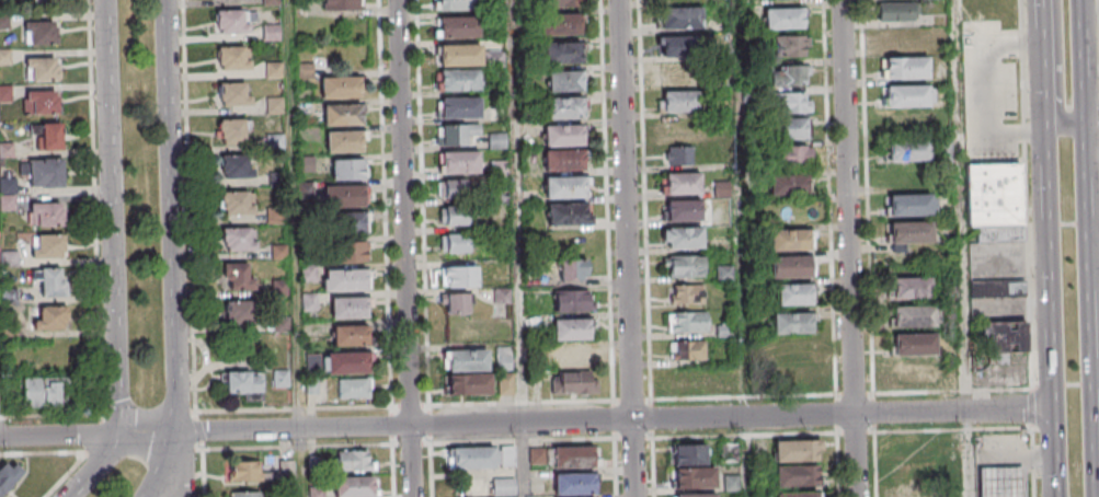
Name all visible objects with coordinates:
building: (272, 3)
building: (556, 3)
building: (341, 4)
building: (457, 4)
building: (894, 11)
building: (680, 18)
building: (782, 18)
road: (1041, 21)
building: (232, 25)
building: (458, 25)
building: (559, 25)
building: (273, 35)
building: (43, 36)
building: (901, 38)
road: (1050, 41)
building: (679, 45)
building: (787, 45)
building: (561, 51)
building: (459, 54)
building: (5, 59)
building: (233, 62)
building: (905, 67)
building: (44, 72)
building: (275, 72)
building: (306, 72)
road: (1058, 72)
building: (676, 73)
building: (789, 76)
road: (1043, 77)
building: (459, 81)
building: (565, 81)
road: (988, 90)
building: (341, 92)
building: (5, 95)
building: (907, 95)
building: (234, 97)
building: (678, 101)
building: (793, 102)
building: (44, 105)
building: (276, 107)
building: (562, 107)
building: (458, 108)
building: (343, 119)
road: (1056, 127)
building: (790, 128)
building: (232, 130)
building: (459, 131)
building: (562, 134)
building: (48, 136)
building: (496, 140)
building: (345, 146)
building: (908, 150)
building: (7, 153)
building: (678, 154)
building: (794, 155)
building: (563, 160)
building: (460, 163)
building: (308, 165)
building: (237, 167)
building: (348, 169)
building: (45, 173)
building: (278, 181)
building: (679, 183)
building: (787, 185)
building: (9, 187)
building: (564, 187)
building: (460, 188)
building: (720, 189)
building: (344, 200)
building: (994, 200)
road: (386, 204)
road: (424, 204)
building: (911, 204)
building: (9, 205)
road: (960, 206)
building: (238, 207)
road: (740, 208)
building: (683, 210)
road: (515, 211)
building: (568, 212)
road: (293, 215)
building: (460, 215)
building: (277, 217)
building: (47, 218)
building: (346, 228)
building: (908, 231)
building: (682, 236)
building: (792, 240)
building: (240, 243)
building: (459, 243)
road: (407, 247)
road: (629, 248)
road: (832, 248)
road: (850, 248)
road: (1028, 248)
road: (1090, 248)
building: (49, 250)
building: (352, 251)
building: (282, 253)
road: (172, 254)
road: (113, 256)
building: (11, 261)
road: (1095, 263)
building: (684, 265)
building: (791, 266)
building: (572, 269)
building: (310, 274)
building: (237, 276)
building: (459, 276)
building: (348, 284)
building: (53, 287)
building: (909, 287)
building: (997, 288)
building: (794, 293)
building: (686, 294)
building: (11, 298)
building: (572, 300)
building: (311, 302)
building: (455, 302)
road: (193, 303)
road: (1050, 304)
building: (350, 312)
building: (242, 316)
building: (913, 316)
building: (687, 321)
building: (51, 322)
building: (791, 323)
building: (570, 328)
building: (725, 333)
building: (1004, 336)
building: (351, 340)
building: (913, 343)
building: (794, 347)
building: (686, 349)
building: (572, 356)
building: (503, 359)
building: (467, 360)
building: (347, 368)
building: (915, 372)
building: (799, 374)
building: (283, 381)
building: (690, 381)
building: (729, 381)
building: (573, 382)
building: (244, 383)
building: (468, 383)
building: (506, 383)
building: (354, 391)
building: (42, 392)
road: (934, 392)
road: (522, 403)
road: (411, 407)
road: (526, 421)
road: (100, 427)
road: (814, 434)
road: (634, 439)
road: (524, 442)
road: (969, 453)
building: (689, 454)
building: (794, 454)
building: (510, 456)
road: (746, 456)
building: (471, 458)
road: (524, 459)
building: (354, 460)
building: (574, 461)
road: (875, 464)
road: (616, 467)
building: (243, 471)
building: (914, 472)
building: (8, 475)
building: (797, 479)
road: (181, 482)
building: (696, 482)
building: (1001, 484)
building: (504, 486)
building: (574, 487)
building: (355, 488)
building: (319, 492)
building: (912, 493)
building: (244, 494)
road: (1056, 494)
building: (692, 495)
building: (799, 496)

